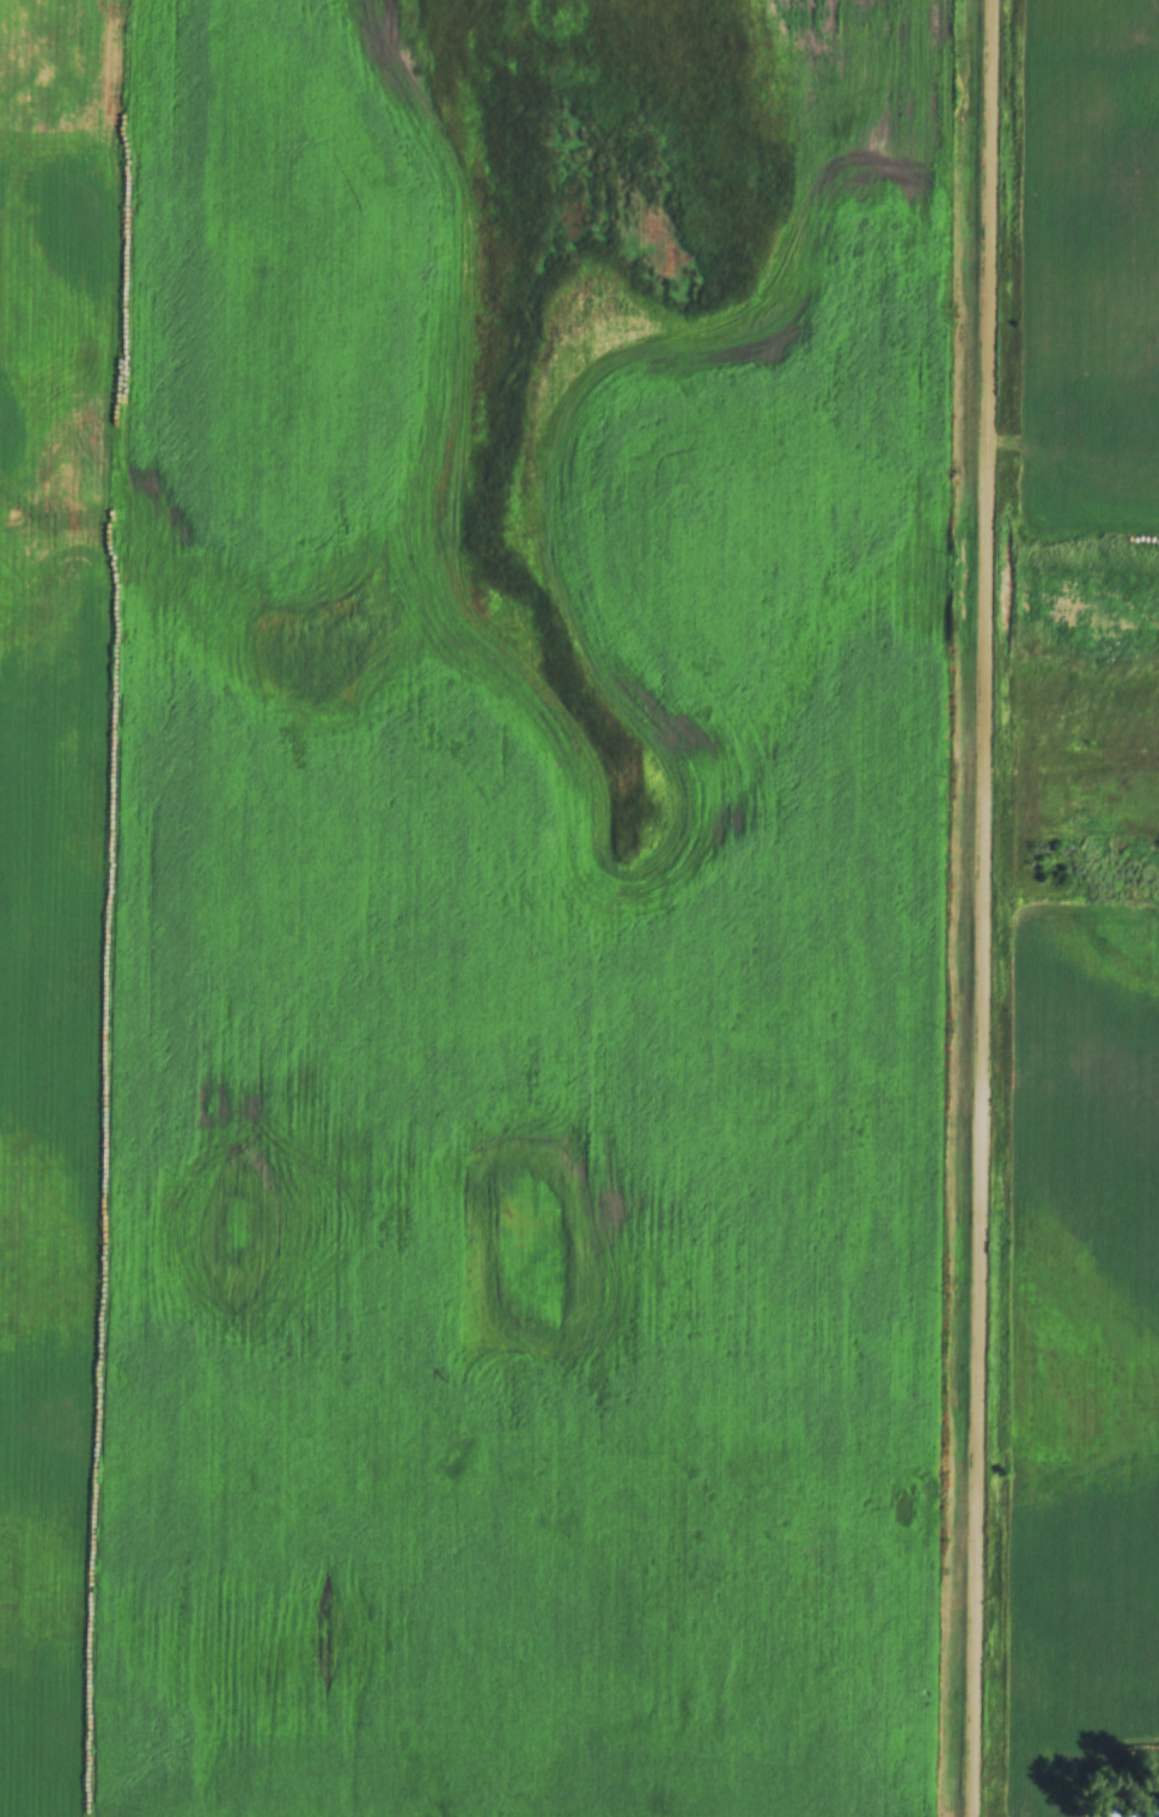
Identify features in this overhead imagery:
road: (987, 908)

